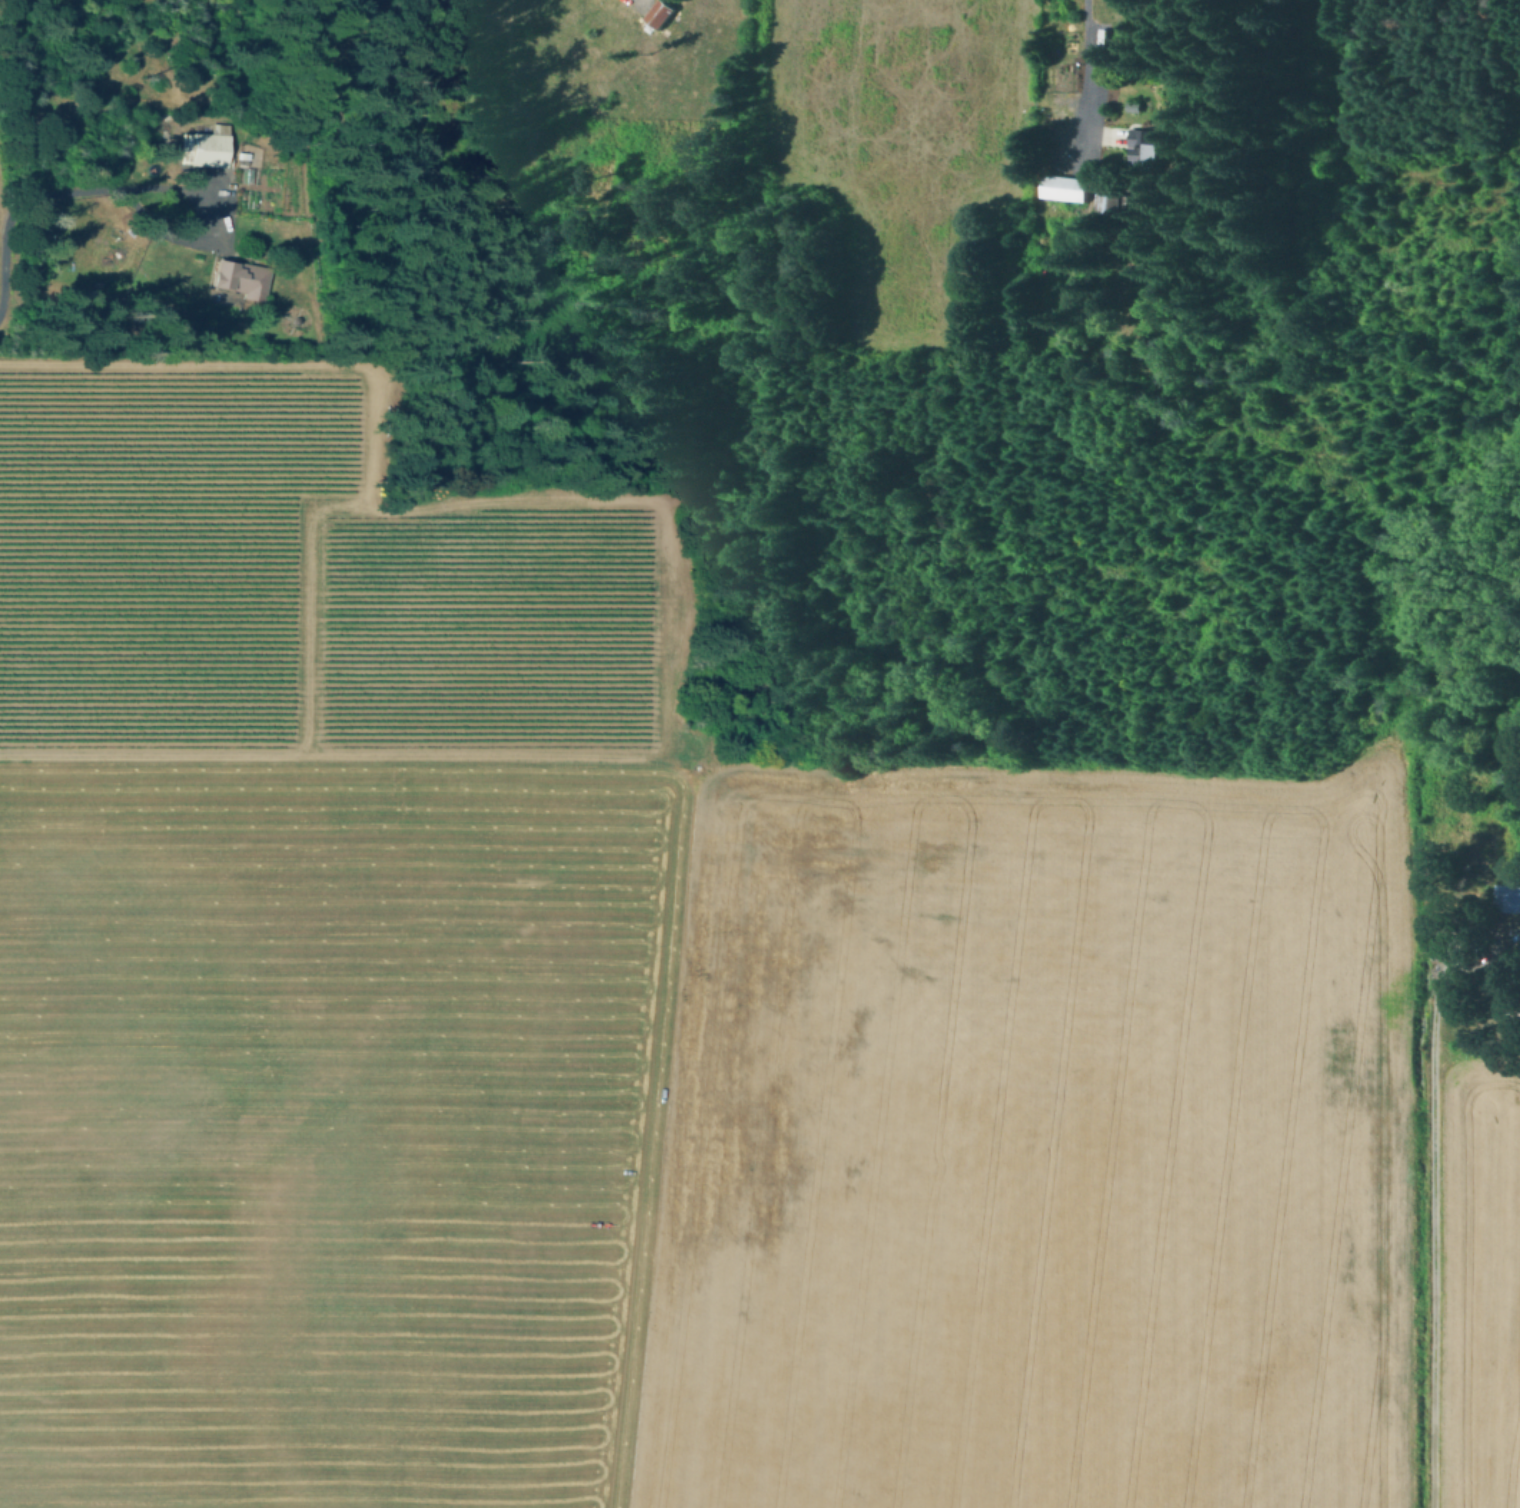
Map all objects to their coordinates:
building: (661, 16)
road: (1086, 82)
building: (1135, 106)
building: (205, 147)
building: (1148, 154)
road: (131, 187)
building: (1068, 188)
building: (1109, 204)
road: (2, 277)
building: (242, 278)
road: (250, 362)
road: (306, 602)
road: (601, 751)
building: (1510, 898)
building: (1509, 986)
crop: (325, 1126)
crop: (1030, 1142)
road: (1435, 1231)
crop: (1481, 1287)

